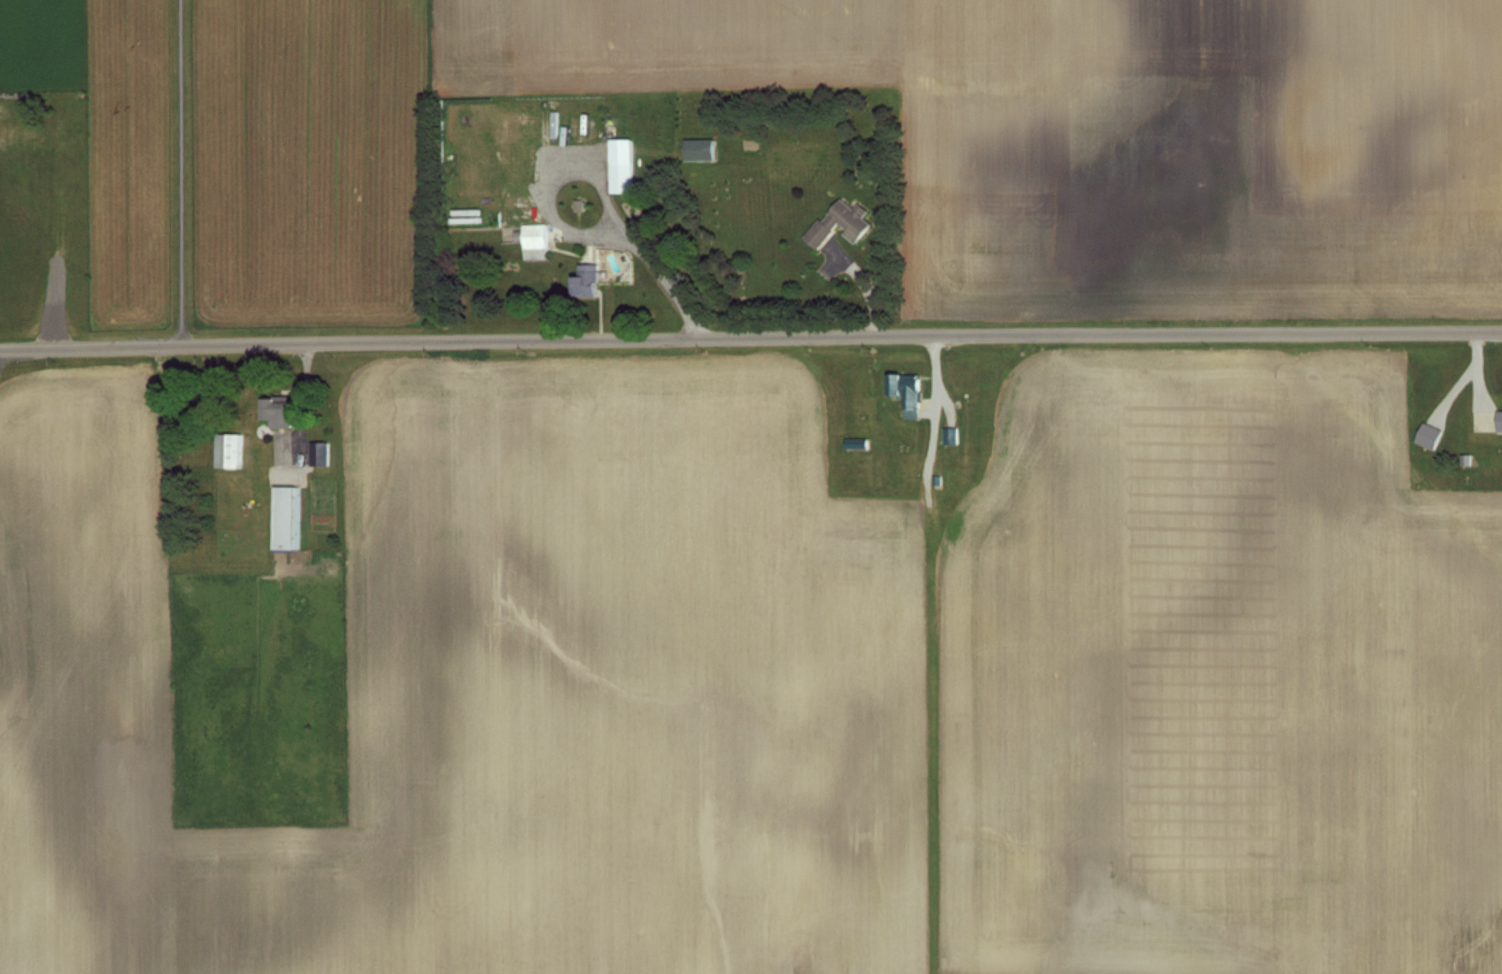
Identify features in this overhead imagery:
building: (509, 147)
building: (698, 149)
building: (620, 165)
road: (182, 171)
road: (554, 201)
building: (838, 222)
building: (534, 241)
building: (584, 280)
road: (666, 288)
road: (750, 334)
building: (905, 392)
building: (276, 411)
building: (1499, 420)
building: (949, 435)
building: (1427, 435)
building: (855, 443)
building: (227, 451)
building: (318, 454)
building: (285, 518)
crop: (489, 689)

